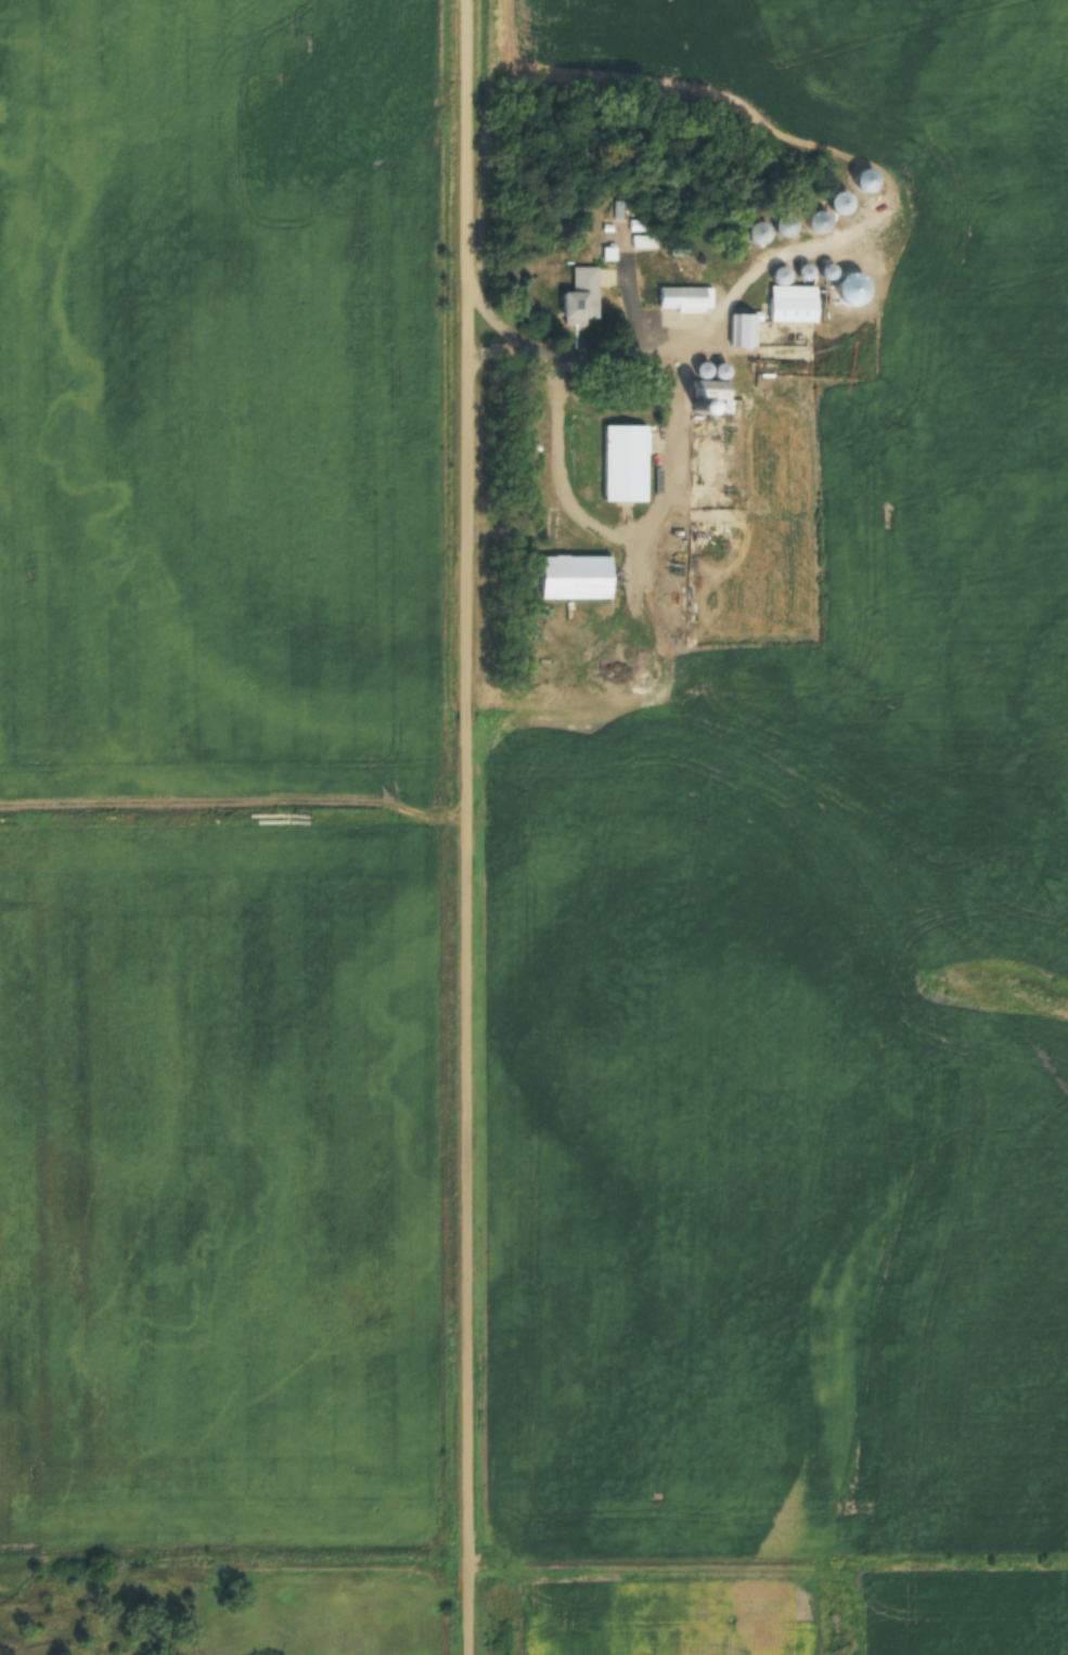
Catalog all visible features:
building: (792, 226)
building: (808, 272)
building: (692, 295)
building: (583, 296)
building: (797, 304)
building: (745, 330)
building: (715, 388)
building: (628, 462)
building: (580, 576)
road: (466, 827)

